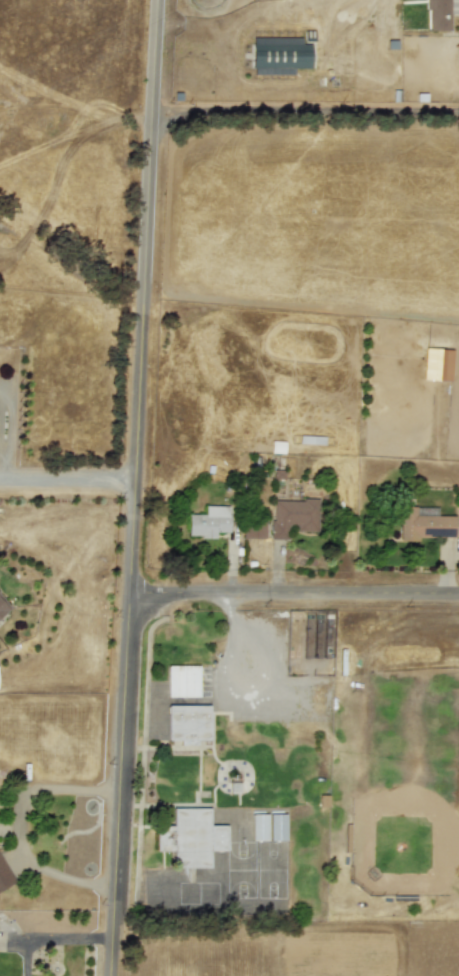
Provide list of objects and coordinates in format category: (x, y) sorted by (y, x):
building: (440, 13)
building: (279, 55)
road: (305, 107)
road: (149, 150)
building: (437, 364)
building: (277, 447)
road: (67, 479)
building: (292, 516)
building: (209, 521)
building: (423, 525)
building: (253, 529)
road: (297, 606)
building: (2, 607)
road: (133, 638)
road: (225, 652)
building: (182, 681)
building: (187, 723)
road: (20, 827)
building: (258, 827)
building: (276, 827)
building: (190, 837)
building: (4, 876)
road: (53, 937)

